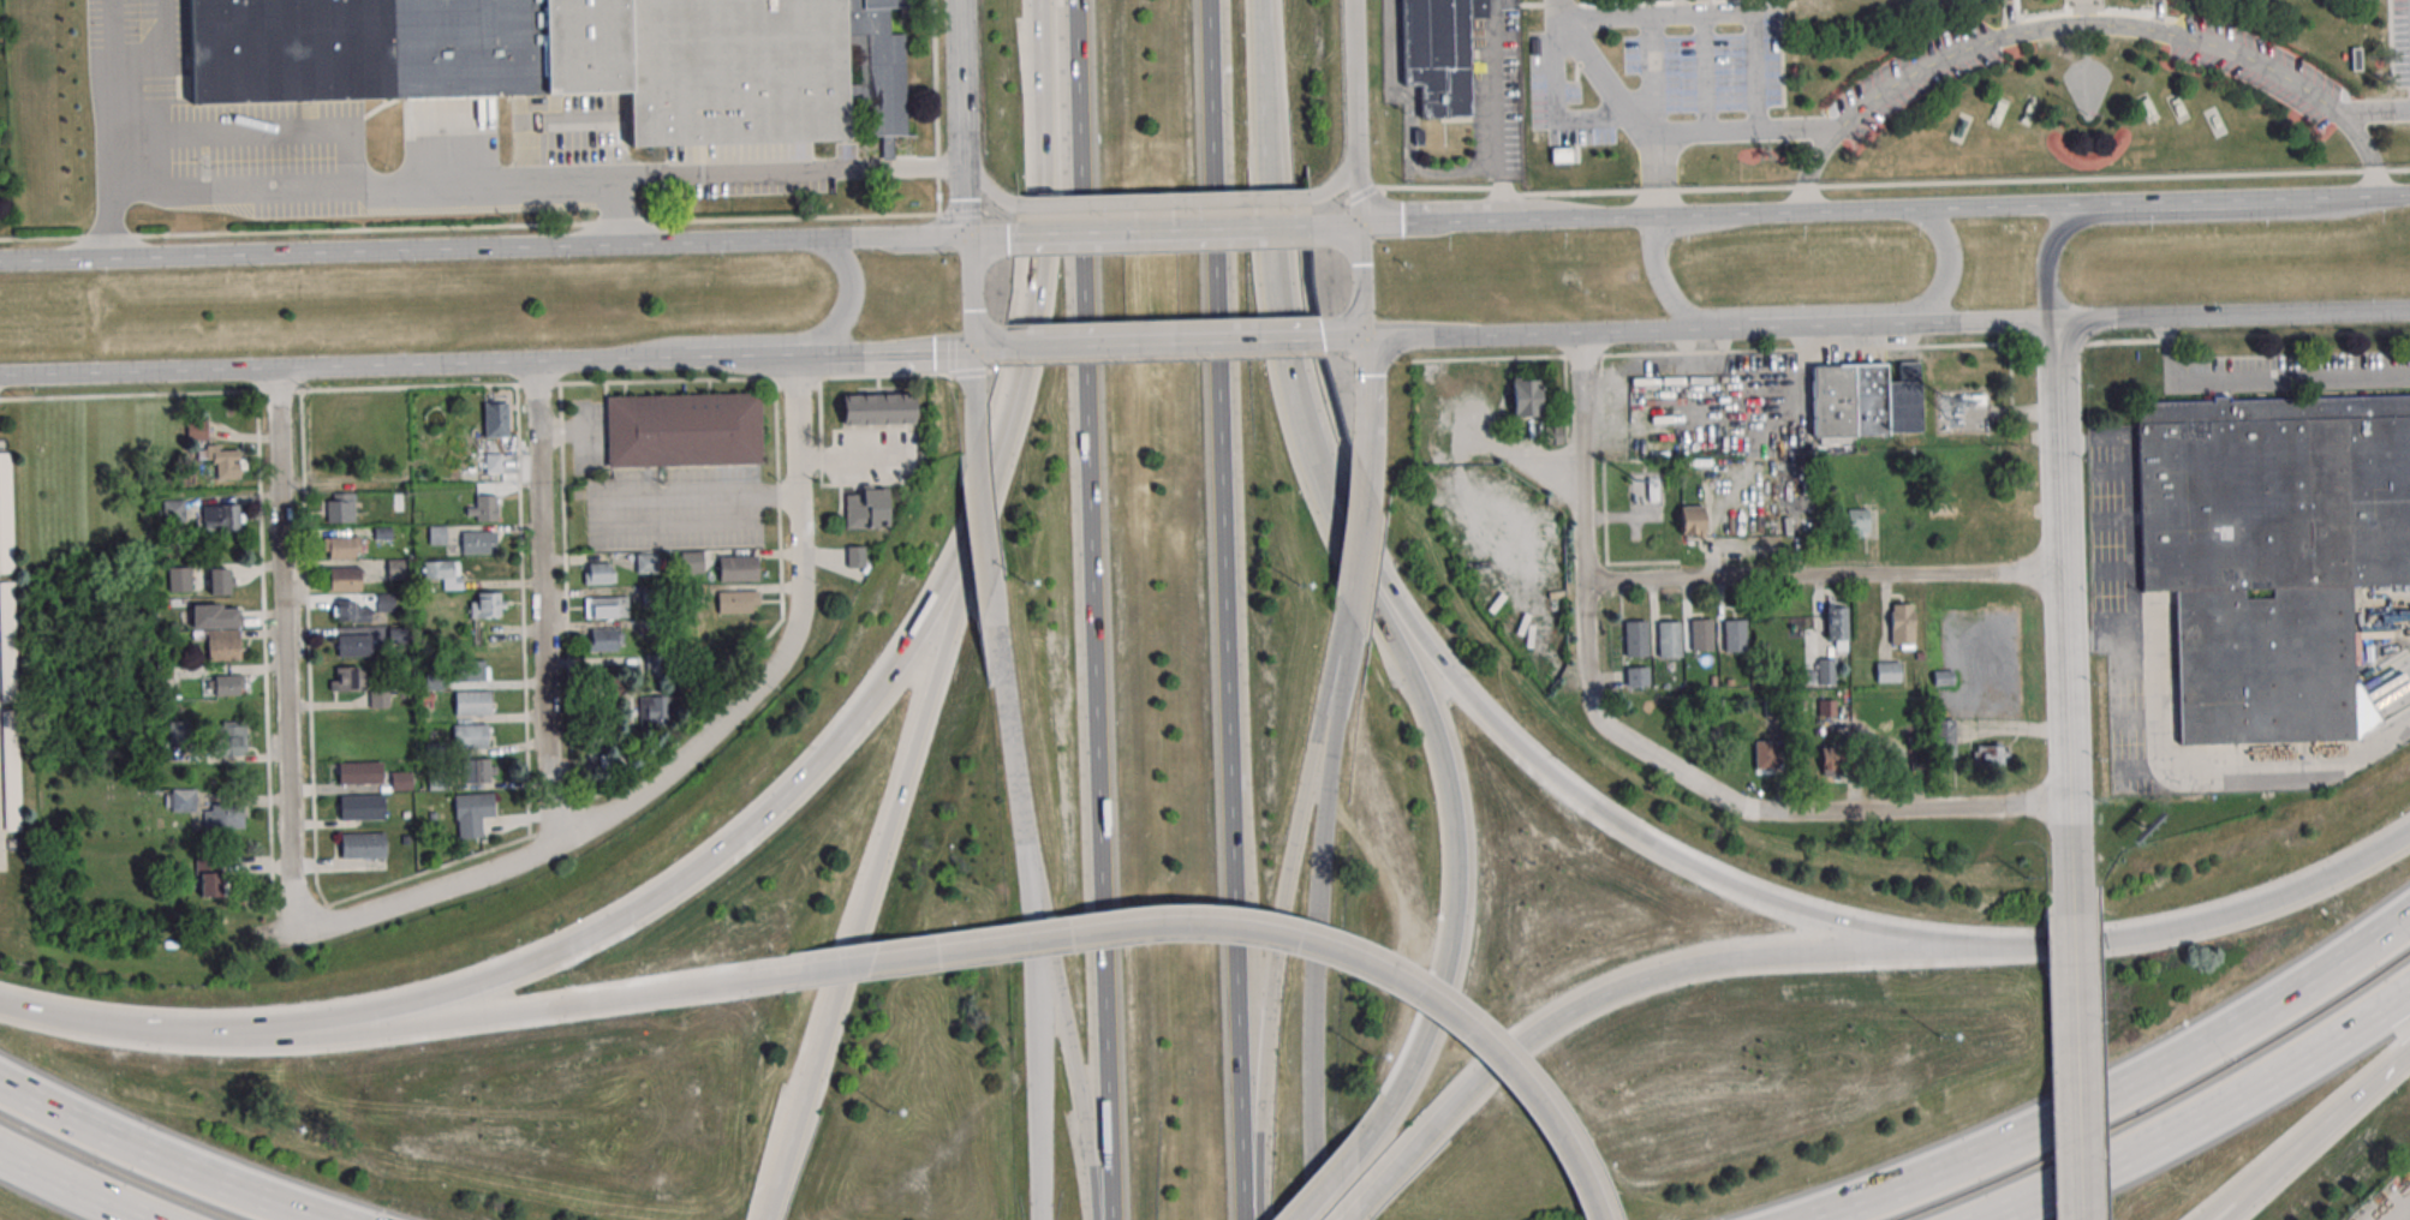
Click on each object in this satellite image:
road: (1634, 16)
road: (2086, 25)
parking lot: (2402, 42)
road: (966, 44)
parking lot: (1707, 56)
building: (577, 59)
building: (1444, 60)
road: (1355, 73)
road: (1599, 73)
road: (1705, 73)
road: (1653, 74)
parking lot: (1562, 101)
road: (1499, 109)
road: (2374, 112)
road: (111, 128)
road: (1749, 131)
building: (1559, 155)
road: (968, 162)
road: (788, 171)
road: (1658, 175)
road: (1341, 179)
road: (1360, 185)
road: (1893, 185)
road: (390, 189)
road: (989, 190)
road: (2394, 195)
road: (2346, 196)
road: (2136, 202)
road: (1162, 203)
road: (1880, 209)
road: (1730, 213)
road: (2172, 215)
road: (1594, 217)
road: (1445, 221)
traffic signals: (1361, 223)
road: (577, 225)
road: (1336, 225)
road: (1289, 226)
road: (1137, 231)
road: (1271, 231)
road: (990, 235)
road: (912, 237)
traffic signals: (972, 237)
road: (1657, 240)
road: (425, 249)
road: (1362, 281)
road: (1040, 285)
road: (973, 293)
road: (1872, 309)
road: (2233, 315)
road: (1903, 323)
road: (1719, 328)
road: (1638, 330)
road: (1474, 335)
road: (783, 337)
road: (1344, 339)
traffic signals: (1365, 339)
road: (1179, 343)
road: (1016, 347)
road: (988, 348)
traffic signals: (974, 349)
road: (1792, 349)
road: (920, 351)
road: (847, 353)
road: (812, 354)
road: (666, 360)
road: (406, 365)
road: (139, 371)
road: (2263, 379)
road: (1368, 385)
road: (976, 391)
building: (1526, 397)
building: (1971, 400)
building: (1866, 401)
building: (878, 408)
road: (581, 417)
building: (495, 419)
building: (197, 429)
road: (578, 429)
building: (686, 431)
building: (1552, 435)
road: (853, 456)
road: (1368, 456)
road: (1585, 456)
building: (222, 460)
building: (500, 464)
road: (798, 480)
building: (1653, 490)
road: (610, 498)
building: (340, 507)
building: (481, 508)
building: (866, 508)
building: (174, 510)
building: (6, 513)
building: (220, 518)
building: (1693, 521)
building: (1857, 521)
building: (478, 542)
road: (1361, 546)
building: (345, 548)
building: (2271, 555)
building: (855, 556)
building: (692, 562)
building: (646, 563)
road: (990, 564)
building: (399, 568)
building: (738, 568)
building: (445, 573)
building: (598, 573)
road: (1825, 575)
building: (179, 578)
building: (345, 578)
building: (221, 581)
building: (738, 602)
building: (487, 605)
road: (542, 605)
building: (606, 606)
road: (1091, 610)
road: (1228, 610)
building: (356, 612)
building: (213, 616)
road: (2064, 616)
building: (1837, 623)
building: (1903, 624)
building: (1702, 636)
building: (1735, 636)
building: (604, 639)
building: (1636, 639)
building: (1670, 640)
building: (8, 641)
building: (353, 642)
building: (223, 645)
road: (2107, 645)
road: (285, 651)
building: (470, 670)
building: (1826, 672)
building: (1887, 672)
building: (1638, 677)
building: (346, 678)
building: (1943, 678)
building: (431, 681)
building: (226, 684)
road: (2159, 687)
building: (380, 699)
building: (472, 702)
building: (1826, 707)
building: (1773, 708)
building: (473, 736)
building: (229, 737)
building: (1945, 737)
road: (702, 744)
building: (1991, 754)
building: (1764, 755)
building: (1831, 761)
building: (12, 771)
building: (478, 771)
building: (359, 772)
road: (1675, 775)
building: (400, 781)
road: (1451, 785)
road: (902, 787)
building: (180, 800)
road: (1588, 801)
building: (362, 807)
road: (1985, 808)
building: (472, 813)
building: (223, 817)
building: (359, 845)
building: (209, 875)
road: (666, 891)
road: (440, 892)
road: (1317, 915)
road: (2214, 919)
road: (1306, 944)
road: (1037, 956)
road: (845, 965)
road: (1275, 965)
road: (1690, 965)
road: (519, 1012)
road: (119, 1025)
road: (1075, 1059)
road: (2078, 1066)
road: (2370, 1086)
road: (2118, 1090)
road: (797, 1116)
road: (2202, 1117)
road: (162, 1155)
road: (2266, 1170)
road: (2280, 1171)
road: (1334, 1173)
road: (1386, 1173)
road: (76, 1186)

